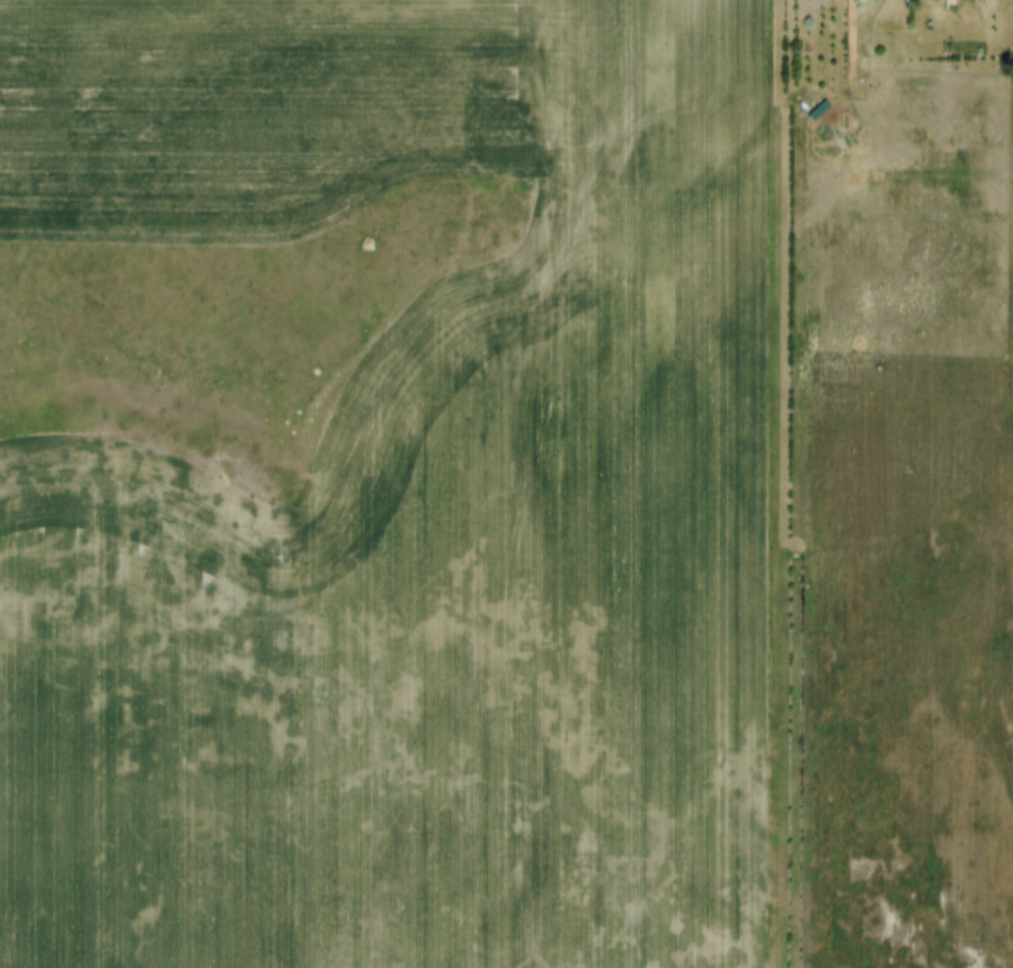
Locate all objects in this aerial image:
road: (852, 33)

